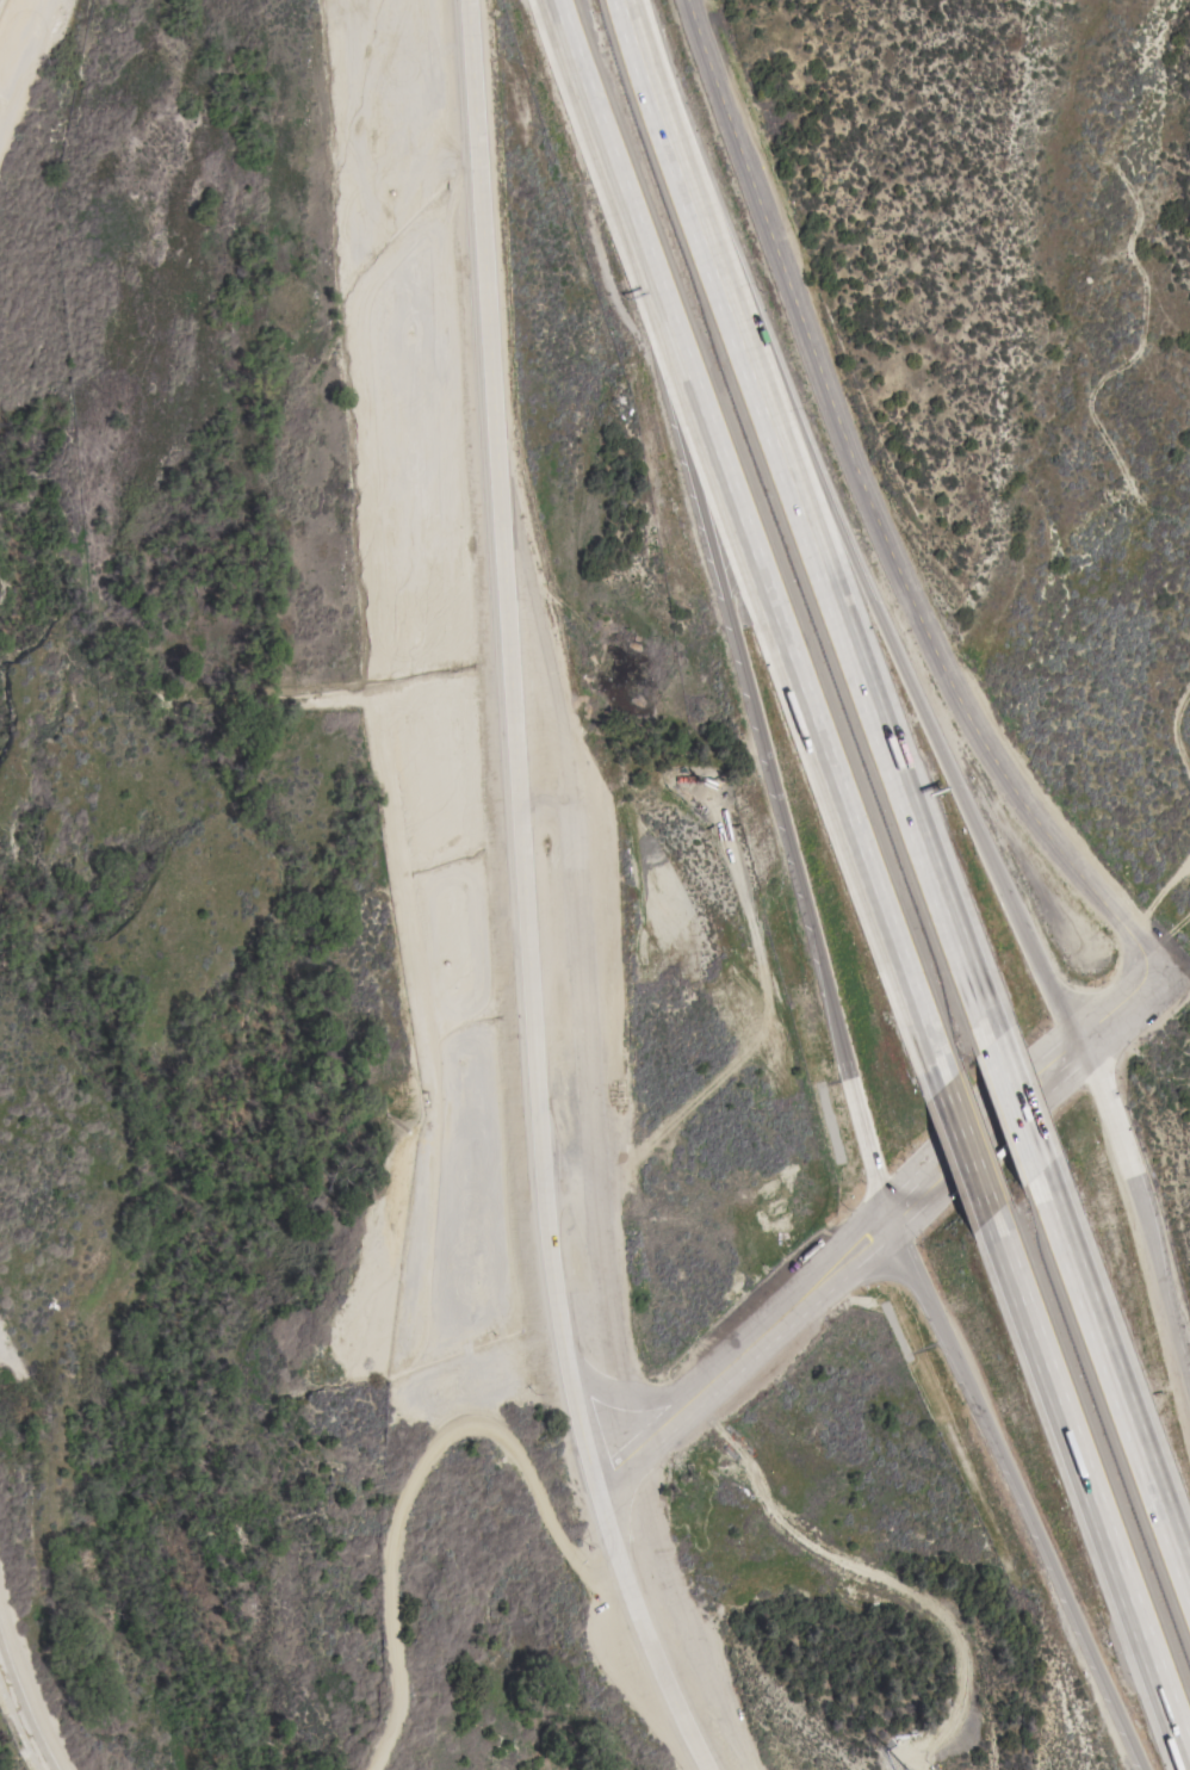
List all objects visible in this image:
road: (581, 82)
road: (646, 293)
road: (880, 512)
road: (807, 519)
road: (776, 625)
road: (954, 766)
road: (527, 898)
road: (1018, 1103)
road: (866, 1114)
road: (966, 1152)
road: (879, 1224)
road: (1116, 1374)
road: (644, 1398)
road: (423, 1477)
road: (1089, 1494)

